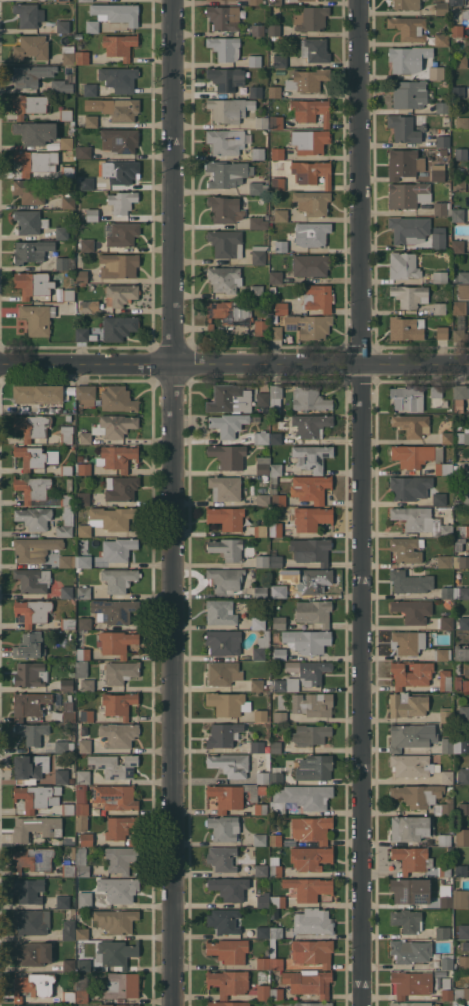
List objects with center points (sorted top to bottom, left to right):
building: (85, 0)
building: (210, 0)
building: (257, 2)
building: (275, 2)
building: (455, 2)
building: (406, 4)
building: (442, 8)
building: (116, 12)
building: (465, 13)
building: (28, 15)
building: (223, 17)
building: (310, 17)
building: (63, 26)
building: (92, 26)
building: (408, 27)
building: (258, 29)
building: (274, 29)
building: (456, 30)
building: (441, 39)
building: (119, 45)
building: (31, 47)
building: (225, 47)
building: (314, 49)
building: (67, 54)
building: (82, 57)
building: (402, 59)
building: (255, 60)
building: (280, 60)
building: (460, 61)
building: (436, 72)
building: (25, 76)
building: (119, 78)
building: (226, 78)
building: (307, 79)
building: (60, 85)
building: (90, 89)
building: (257, 91)
building: (275, 91)
building: (457, 91)
building: (410, 94)
building: (29, 104)
building: (442, 107)
building: (121, 109)
building: (229, 109)
building: (309, 110)
building: (65, 114)
building: (91, 121)
building: (261, 122)
building: (276, 122)
building: (462, 122)
building: (404, 128)
building: (35, 132)
building: (120, 140)
building: (226, 140)
building: (310, 140)
building: (443, 141)
building: (66, 143)
building: (83, 151)
building: (257, 153)
building: (277, 153)
building: (461, 153)
building: (36, 161)
building: (404, 163)
building: (67, 171)
building: (120, 171)
building: (312, 172)
building: (438, 172)
building: (227, 173)
building: (86, 183)
building: (277, 183)
building: (459, 184)
building: (258, 188)
building: (30, 191)
building: (408, 194)
building: (68, 200)
building: (122, 201)
building: (312, 202)
building: (442, 208)
building: (225, 209)
building: (92, 214)
building: (458, 214)
building: (279, 215)
building: (29, 221)
building: (257, 222)
building: (409, 229)
building: (61, 232)
building: (121, 233)
building: (309, 233)
building: (438, 240)
building: (226, 242)
building: (87, 245)
building: (458, 245)
building: (279, 246)
building: (31, 250)
building: (258, 254)
building: (64, 263)
building: (311, 264)
building: (118, 265)
building: (403, 265)
building: (81, 276)
building: (440, 276)
building: (276, 277)
building: (463, 277)
building: (224, 278)
building: (33, 283)
building: (462, 290)
building: (256, 291)
building: (68, 294)
building: (120, 294)
building: (409, 294)
building: (318, 297)
building: (84, 306)
building: (72, 307)
building: (459, 307)
building: (281, 308)
building: (439, 308)
building: (36, 309)
building: (228, 313)
building: (38, 324)
building: (309, 325)
building: (118, 327)
building: (261, 327)
building: (406, 328)
building: (460, 330)
building: (276, 332)
building: (442, 332)
building: (84, 334)
road: (234, 366)
building: (436, 391)
building: (460, 391)
building: (37, 393)
building: (86, 394)
building: (407, 397)
building: (118, 398)
building: (229, 398)
building: (275, 398)
building: (309, 398)
building: (262, 399)
building: (228, 424)
building: (311, 424)
building: (412, 424)
building: (115, 425)
building: (32, 426)
building: (66, 433)
building: (463, 435)
building: (84, 437)
building: (446, 437)
building: (261, 438)
building: (276, 438)
building: (228, 455)
building: (420, 456)
building: (30, 457)
building: (117, 457)
building: (311, 457)
building: (263, 465)
building: (462, 466)
building: (83, 468)
building: (276, 468)
building: (66, 469)
building: (69, 484)
building: (121, 487)
building: (224, 487)
building: (409, 487)
building: (310, 488)
building: (40, 491)
building: (276, 493)
building: (83, 498)
building: (439, 498)
building: (263, 499)
building: (463, 500)
road: (173, 502)
road: (360, 502)
building: (34, 517)
building: (226, 517)
building: (311, 517)
building: (108, 519)
building: (421, 520)
building: (66, 522)
building: (276, 529)
building: (260, 530)
building: (464, 530)
building: (34, 548)
building: (227, 548)
building: (406, 548)
building: (311, 549)
building: (104, 550)
building: (276, 560)
building: (65, 561)
building: (262, 561)
building: (445, 561)
building: (461, 561)
building: (78, 569)
building: (119, 579)
building: (225, 579)
building: (311, 579)
building: (33, 580)
building: (409, 582)
building: (279, 590)
building: (83, 591)
building: (260, 591)
building: (67, 592)
building: (447, 592)
building: (461, 592)
building: (33, 610)
building: (114, 610)
building: (413, 610)
building: (314, 611)
building: (220, 612)
building: (258, 622)
building: (279, 622)
building: (446, 622)
building: (462, 622)
building: (68, 623)
building: (84, 623)
building: (307, 640)
building: (223, 641)
building: (117, 642)
building: (407, 642)
building: (29, 645)
building: (261, 645)
building: (461, 652)
building: (83, 653)
building: (279, 654)
building: (442, 654)
building: (82, 669)
building: (309, 670)
building: (120, 671)
building: (222, 672)
building: (411, 673)
building: (30, 674)
building: (444, 679)
building: (459, 679)
building: (66, 684)
building: (85, 684)
building: (286, 684)
building: (257, 685)
building: (228, 703)
building: (29, 704)
building: (117, 704)
building: (313, 704)
building: (407, 704)
building: (464, 713)
building: (446, 714)
building: (68, 715)
building: (86, 715)
building: (261, 715)
building: (279, 716)
building: (32, 732)
building: (119, 734)
building: (225, 734)
building: (310, 734)
building: (411, 736)
building: (446, 744)
building: (84, 745)
building: (464, 745)
building: (64, 746)
building: (259, 746)
building: (276, 746)
building: (230, 764)
building: (412, 764)
building: (114, 765)
building: (29, 766)
building: (315, 767)
building: (463, 775)
building: (61, 776)
building: (82, 776)
building: (447, 776)
building: (262, 777)
building: (276, 777)
building: (233, 795)
building: (115, 796)
building: (35, 797)
building: (301, 797)
building: (423, 797)
building: (81, 799)
building: (67, 808)
building: (260, 808)
building: (464, 808)
building: (81, 822)
building: (35, 827)
building: (410, 827)
building: (122, 828)
building: (223, 828)
building: (311, 828)
building: (462, 836)
building: (86, 839)
building: (259, 839)
building: (276, 839)
building: (444, 839)
building: (73, 852)
building: (310, 857)
building: (121, 858)
building: (222, 858)
building: (411, 858)
building: (33, 859)
building: (81, 862)
building: (275, 866)
building: (69, 870)
building: (261, 870)
building: (444, 870)
building: (461, 870)
building: (308, 887)
building: (29, 889)
building: (122, 889)
building: (232, 889)
building: (410, 890)
building: (445, 896)
building: (460, 898)
building: (85, 899)
building: (263, 899)
building: (63, 901)
building: (277, 901)
building: (274, 912)
building: (79, 914)
building: (116, 919)
building: (224, 920)
building: (407, 920)
building: (32, 921)
building: (312, 921)
building: (68, 930)
building: (463, 931)
building: (262, 932)
building: (277, 932)
building: (442, 932)
building: (82, 933)
building: (465, 944)
building: (273, 947)
building: (229, 950)
building: (410, 950)
building: (312, 951)
building: (33, 952)
building: (116, 953)
building: (447, 961)
building: (463, 961)
building: (264, 963)
building: (69, 964)
building: (83, 965)
building: (82, 977)
building: (228, 982)
building: (308, 982)
building: (411, 983)
building: (33, 985)
building: (121, 985)
building: (446, 989)
building: (263, 991)
building: (277, 993)
building: (461, 993)
building: (82, 995)
building: (68, 996)
building: (227, 1003)
building: (312, 1003)
building: (459, 1003)
building: (410, 1004)
building: (437, 1004)
building: (31, 1005)
building: (119, 1005)

